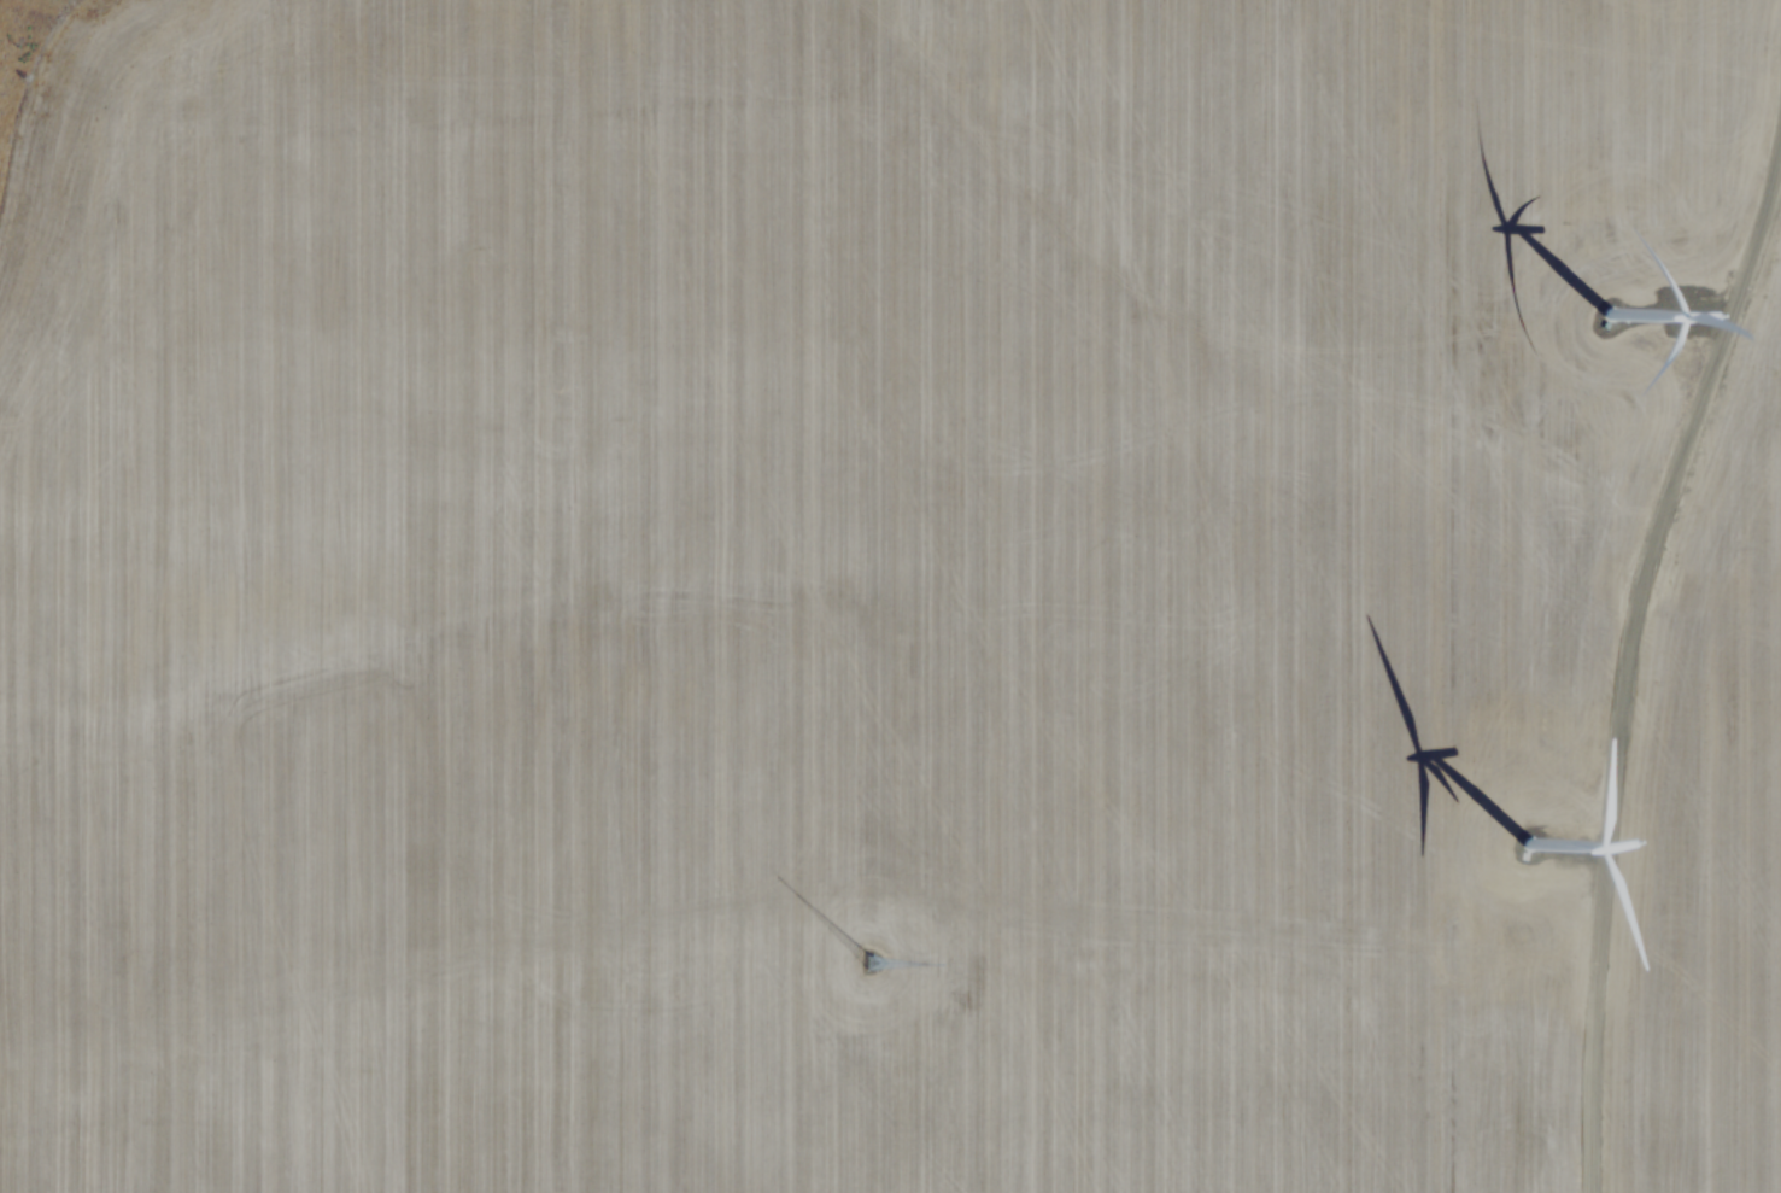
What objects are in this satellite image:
wind turbine: (1609, 328)
road: (1621, 630)
wind turbine: (1536, 861)

